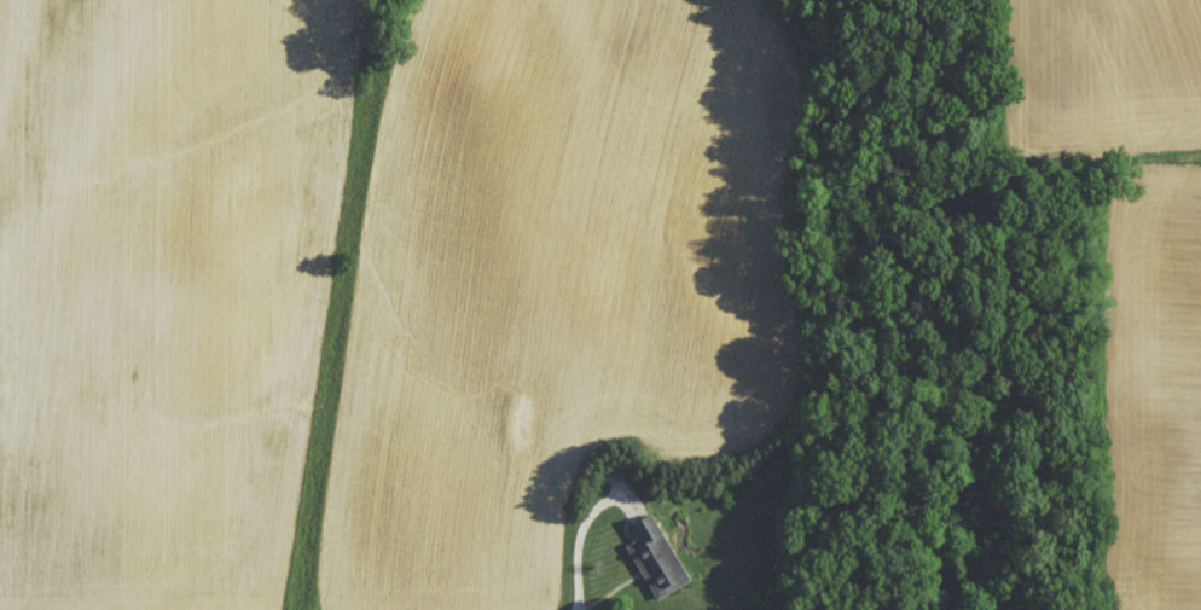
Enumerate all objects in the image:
road: (590, 524)
building: (654, 564)

